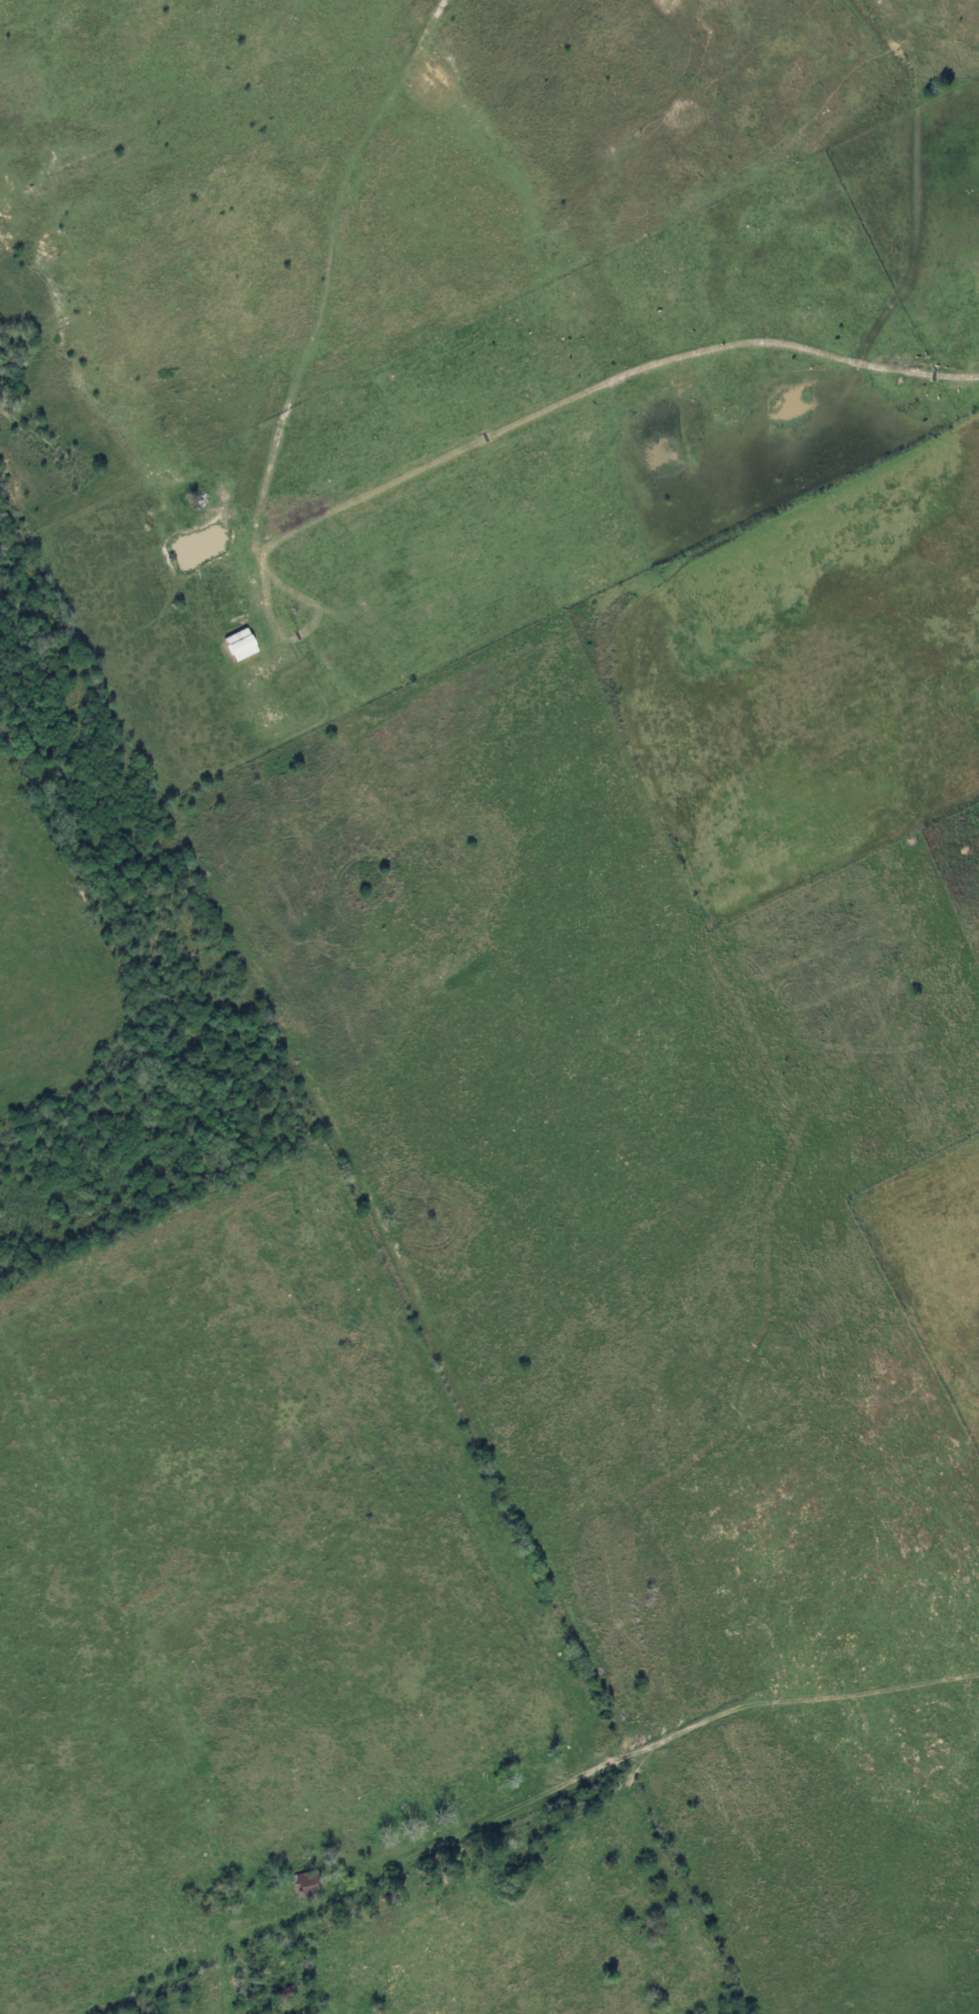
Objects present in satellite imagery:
road: (430, 28)
building: (237, 644)
building: (304, 1884)

